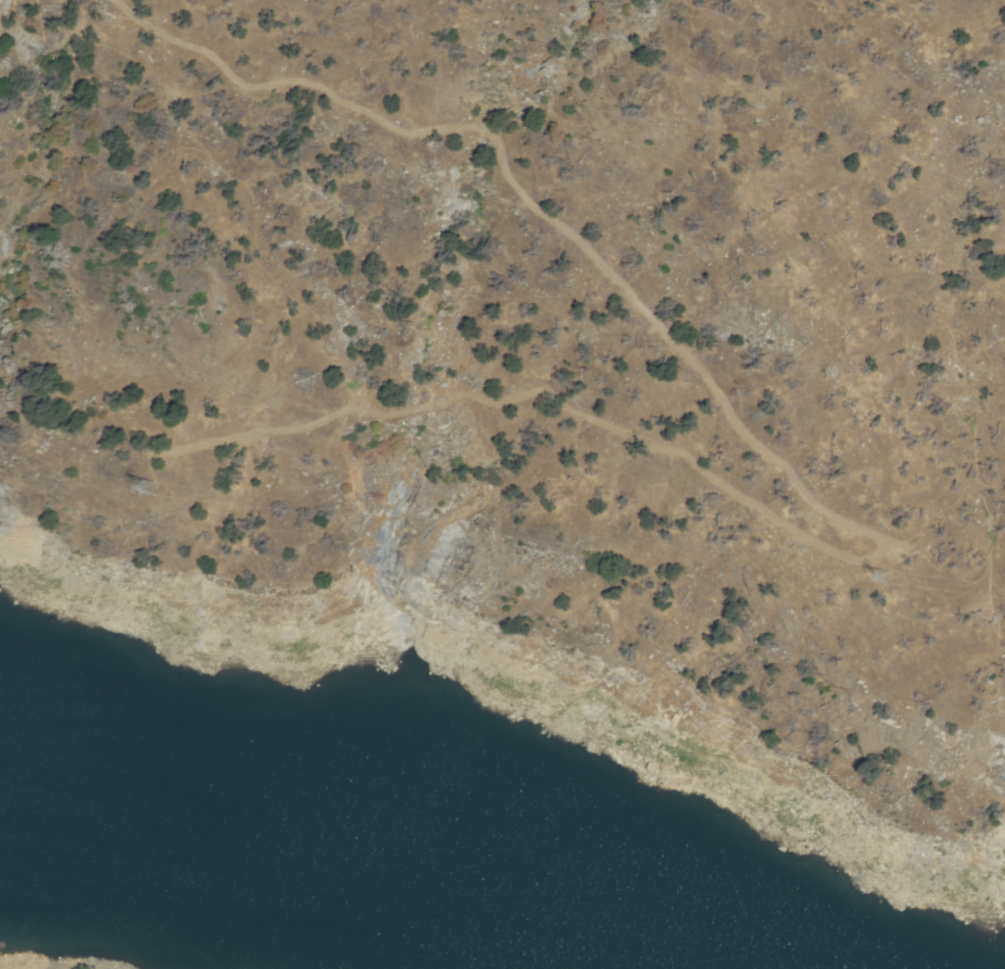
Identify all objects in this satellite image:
power tower: (119, 481)
power tower: (846, 573)
river: (192, 841)
river: (443, 910)
river: (534, 951)

